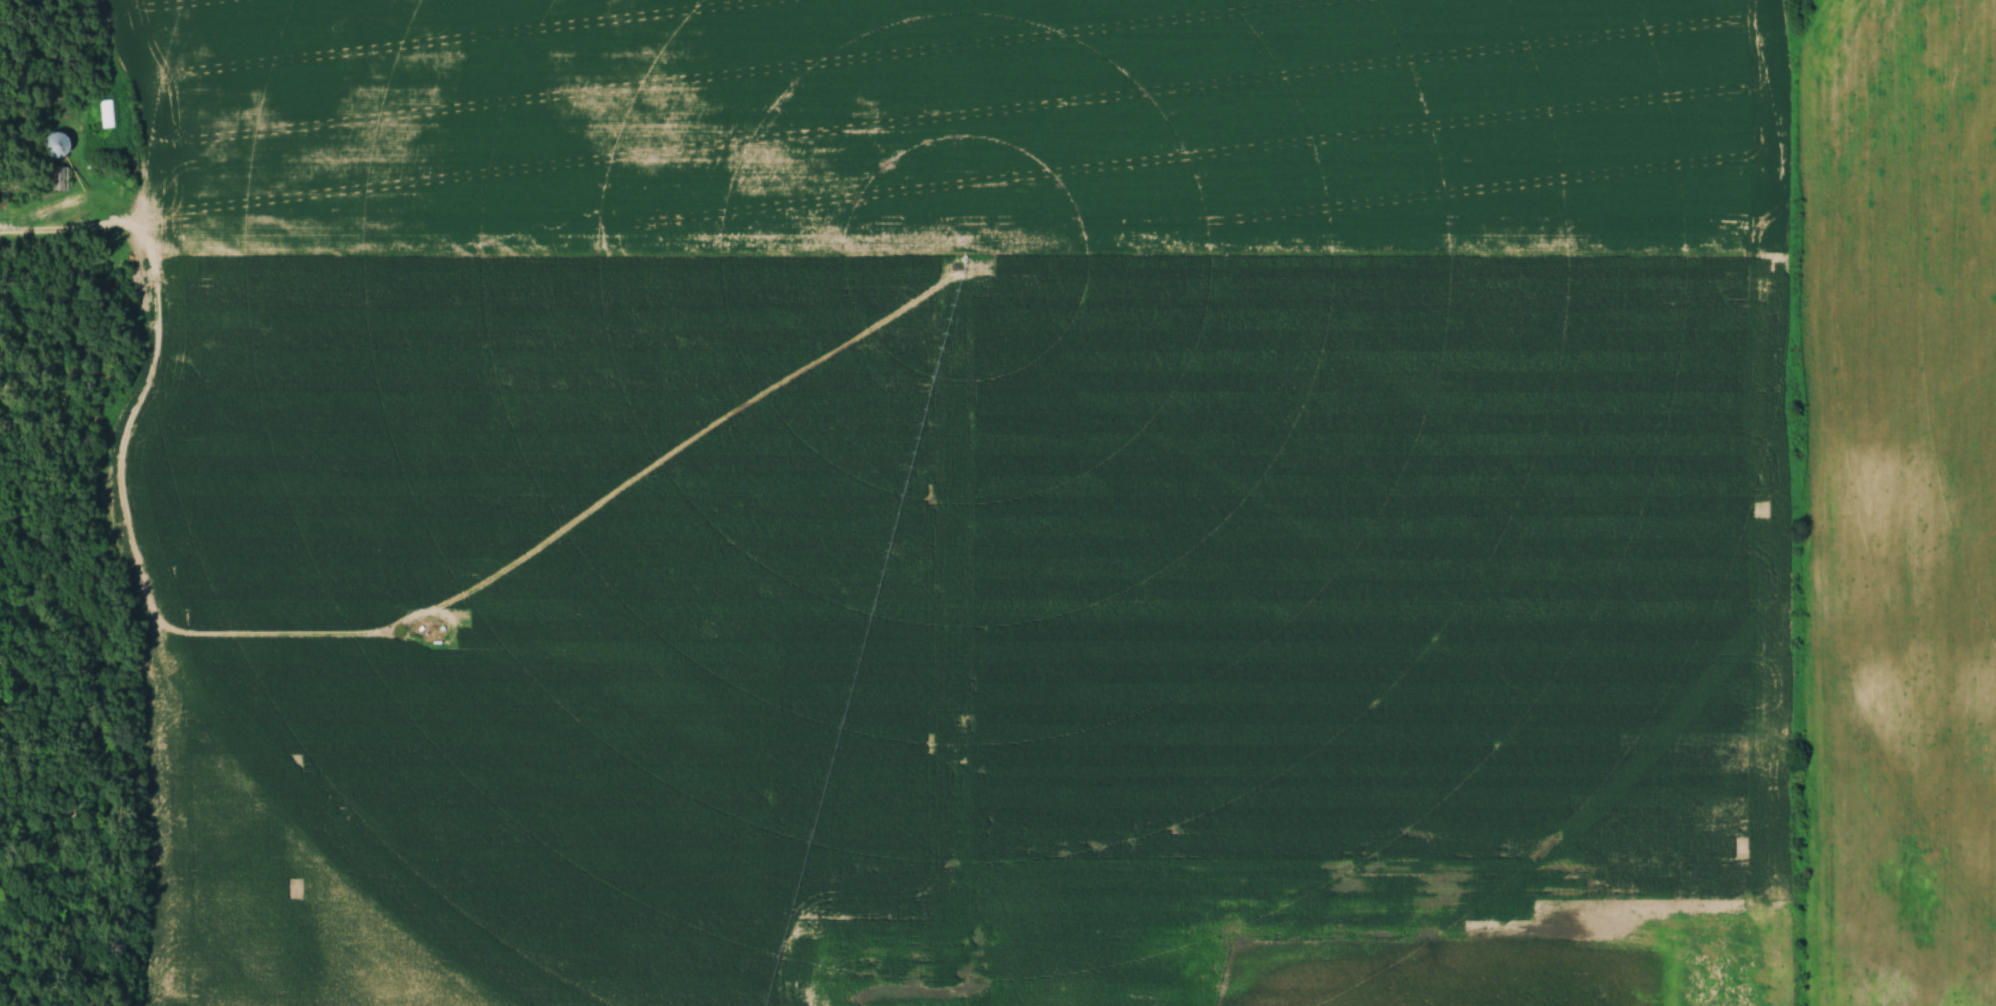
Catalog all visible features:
building: (59, 144)
building: (109, 374)

